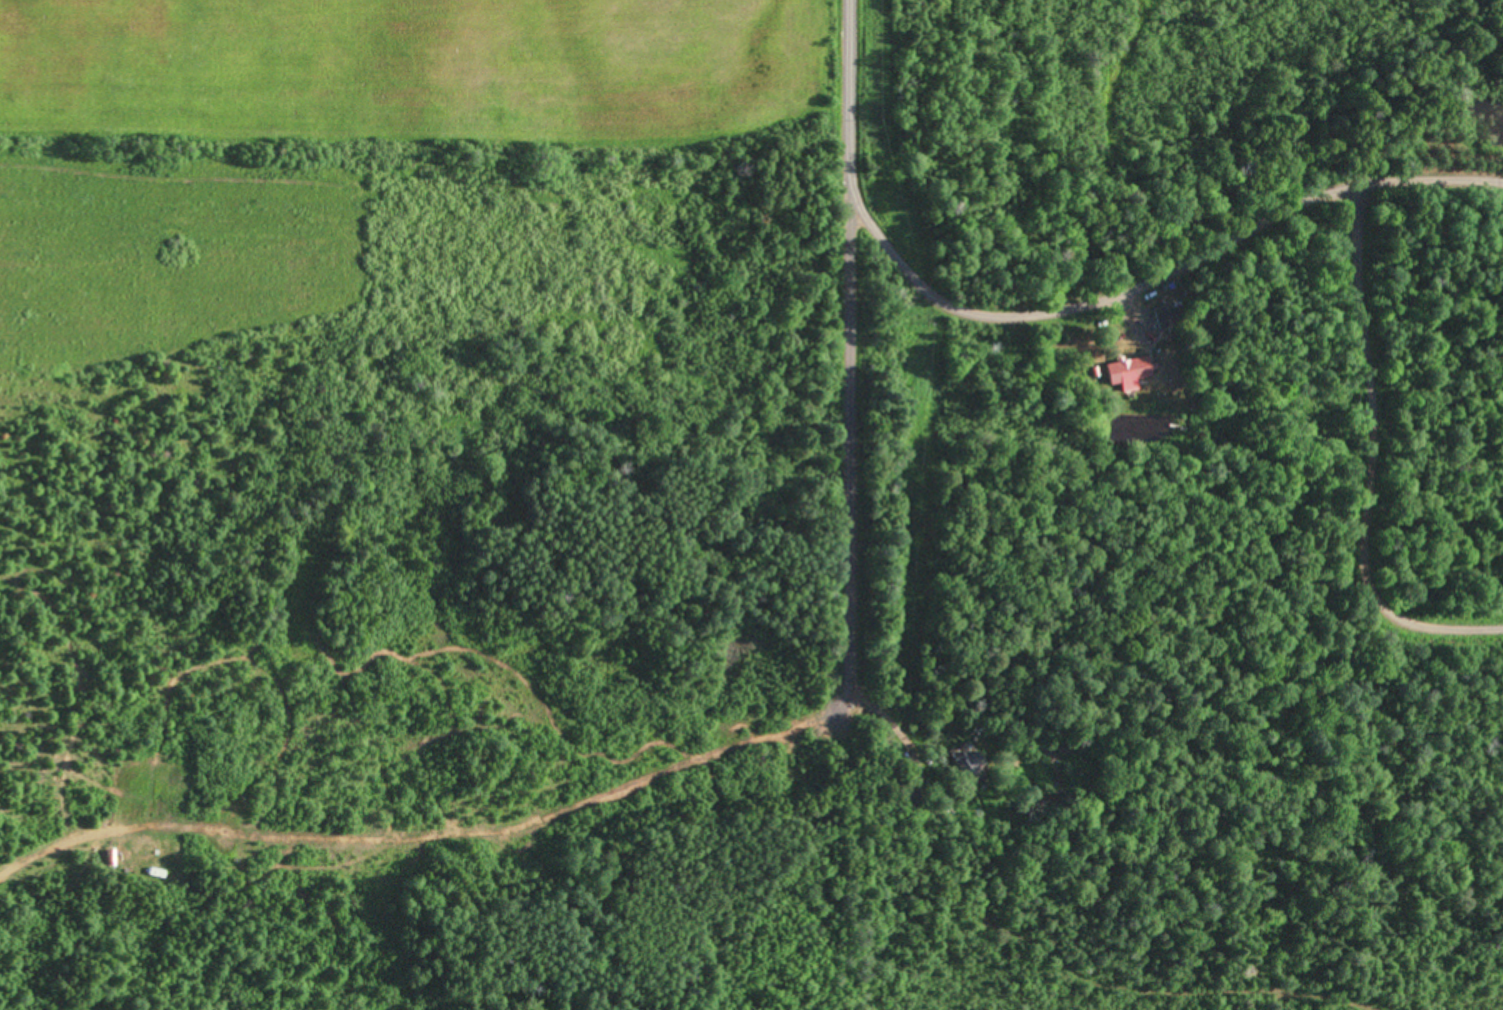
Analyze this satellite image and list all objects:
road: (1061, 312)
building: (1165, 318)
building: (1129, 371)
road: (853, 449)
building: (967, 765)
building: (912, 801)
road: (14, 878)

